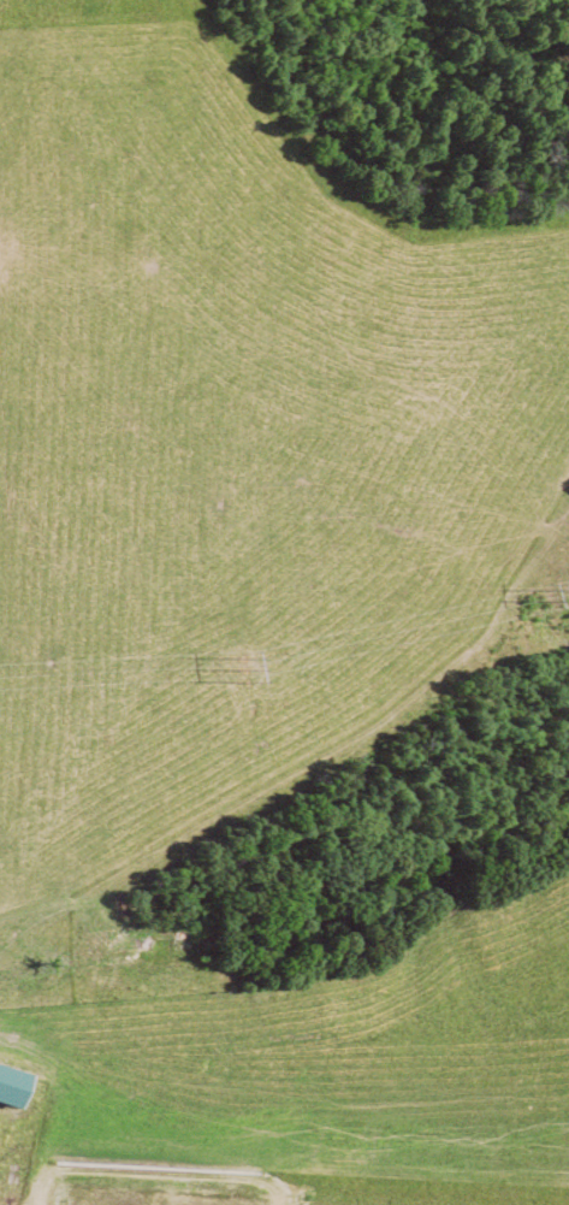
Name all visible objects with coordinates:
power tower: (547, 603)
power tower: (248, 672)
building: (20, 1083)

